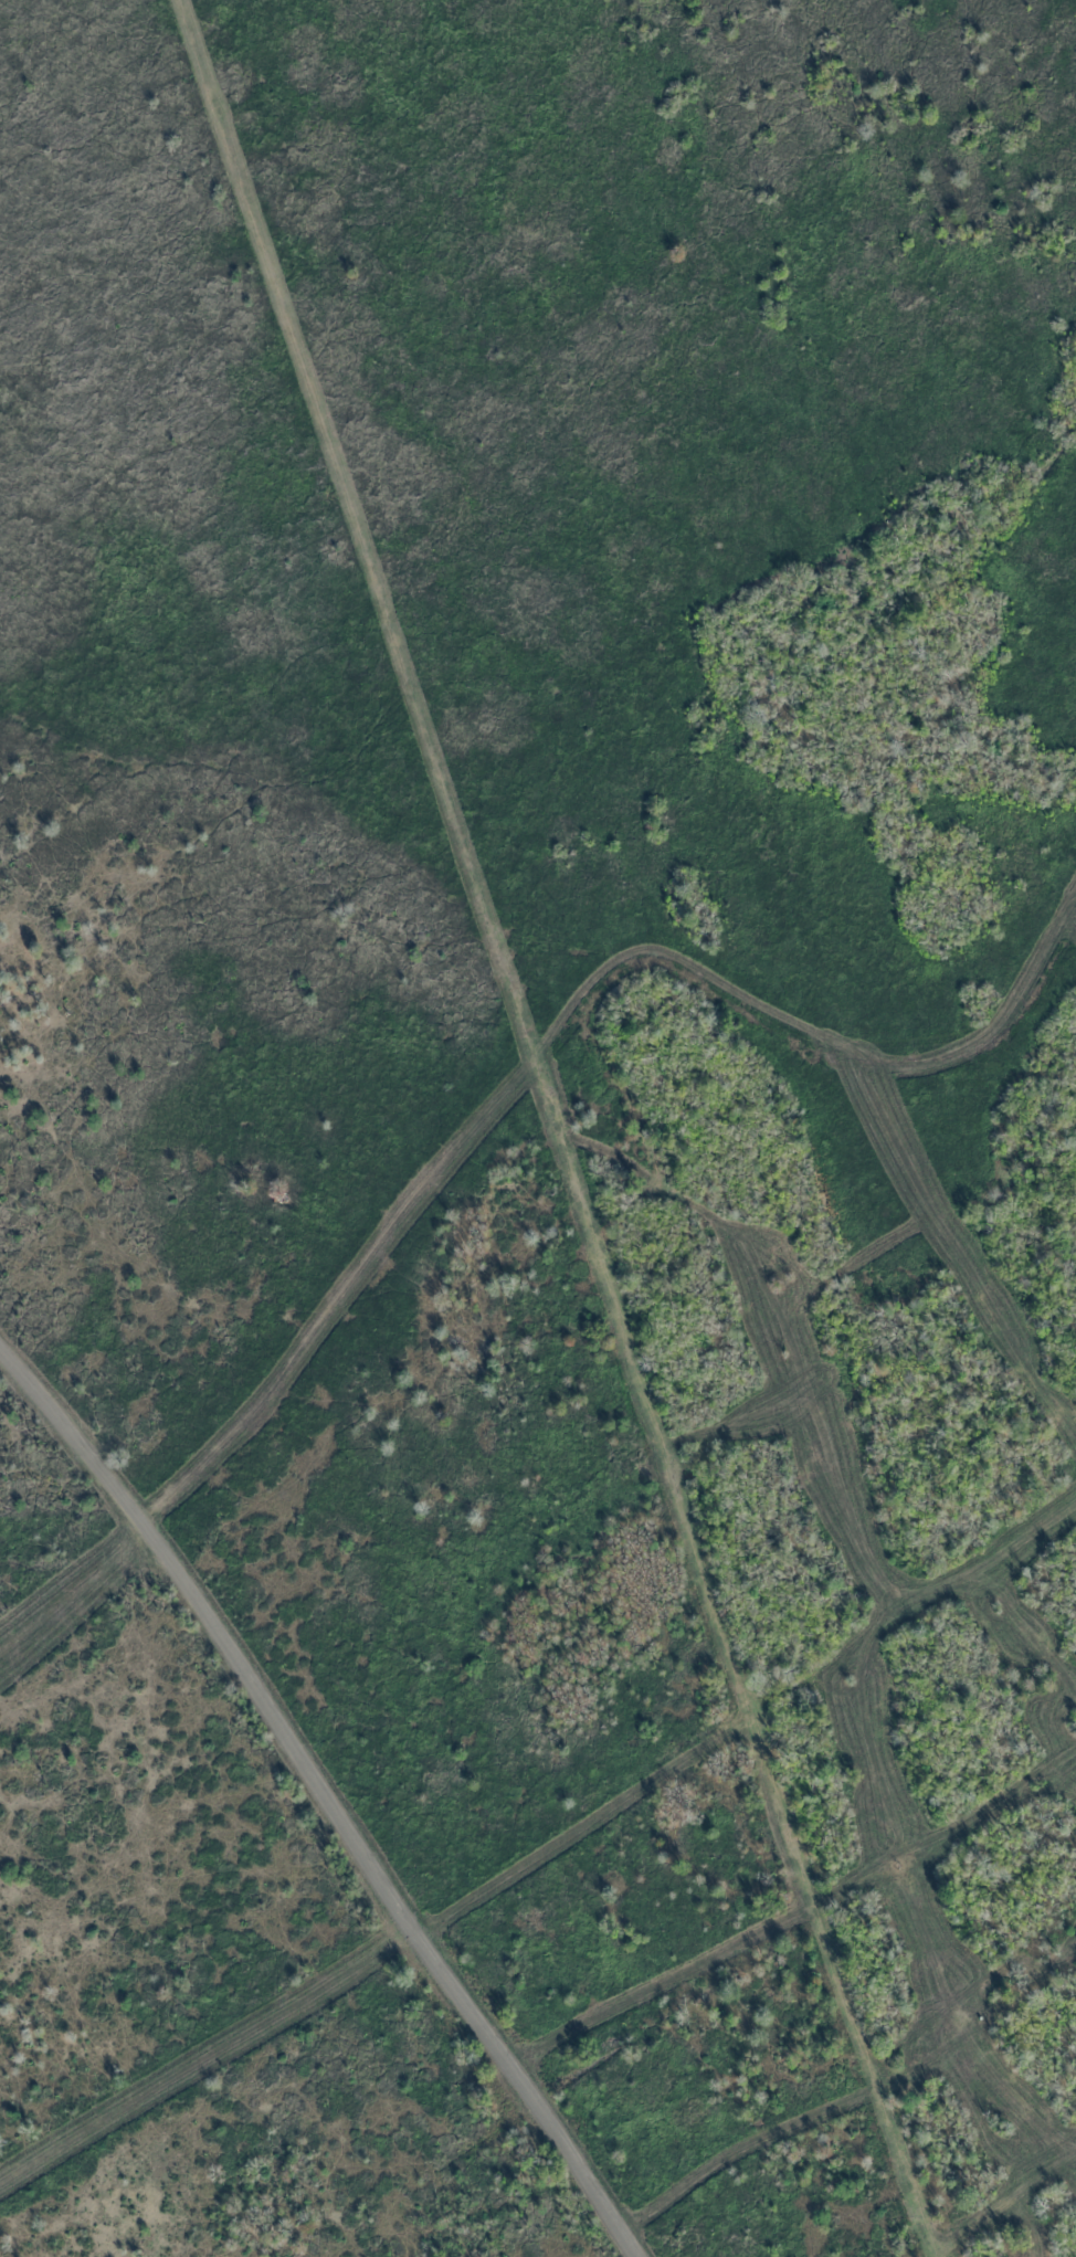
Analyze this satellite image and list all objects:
road: (748, 1721)
road: (328, 1792)

